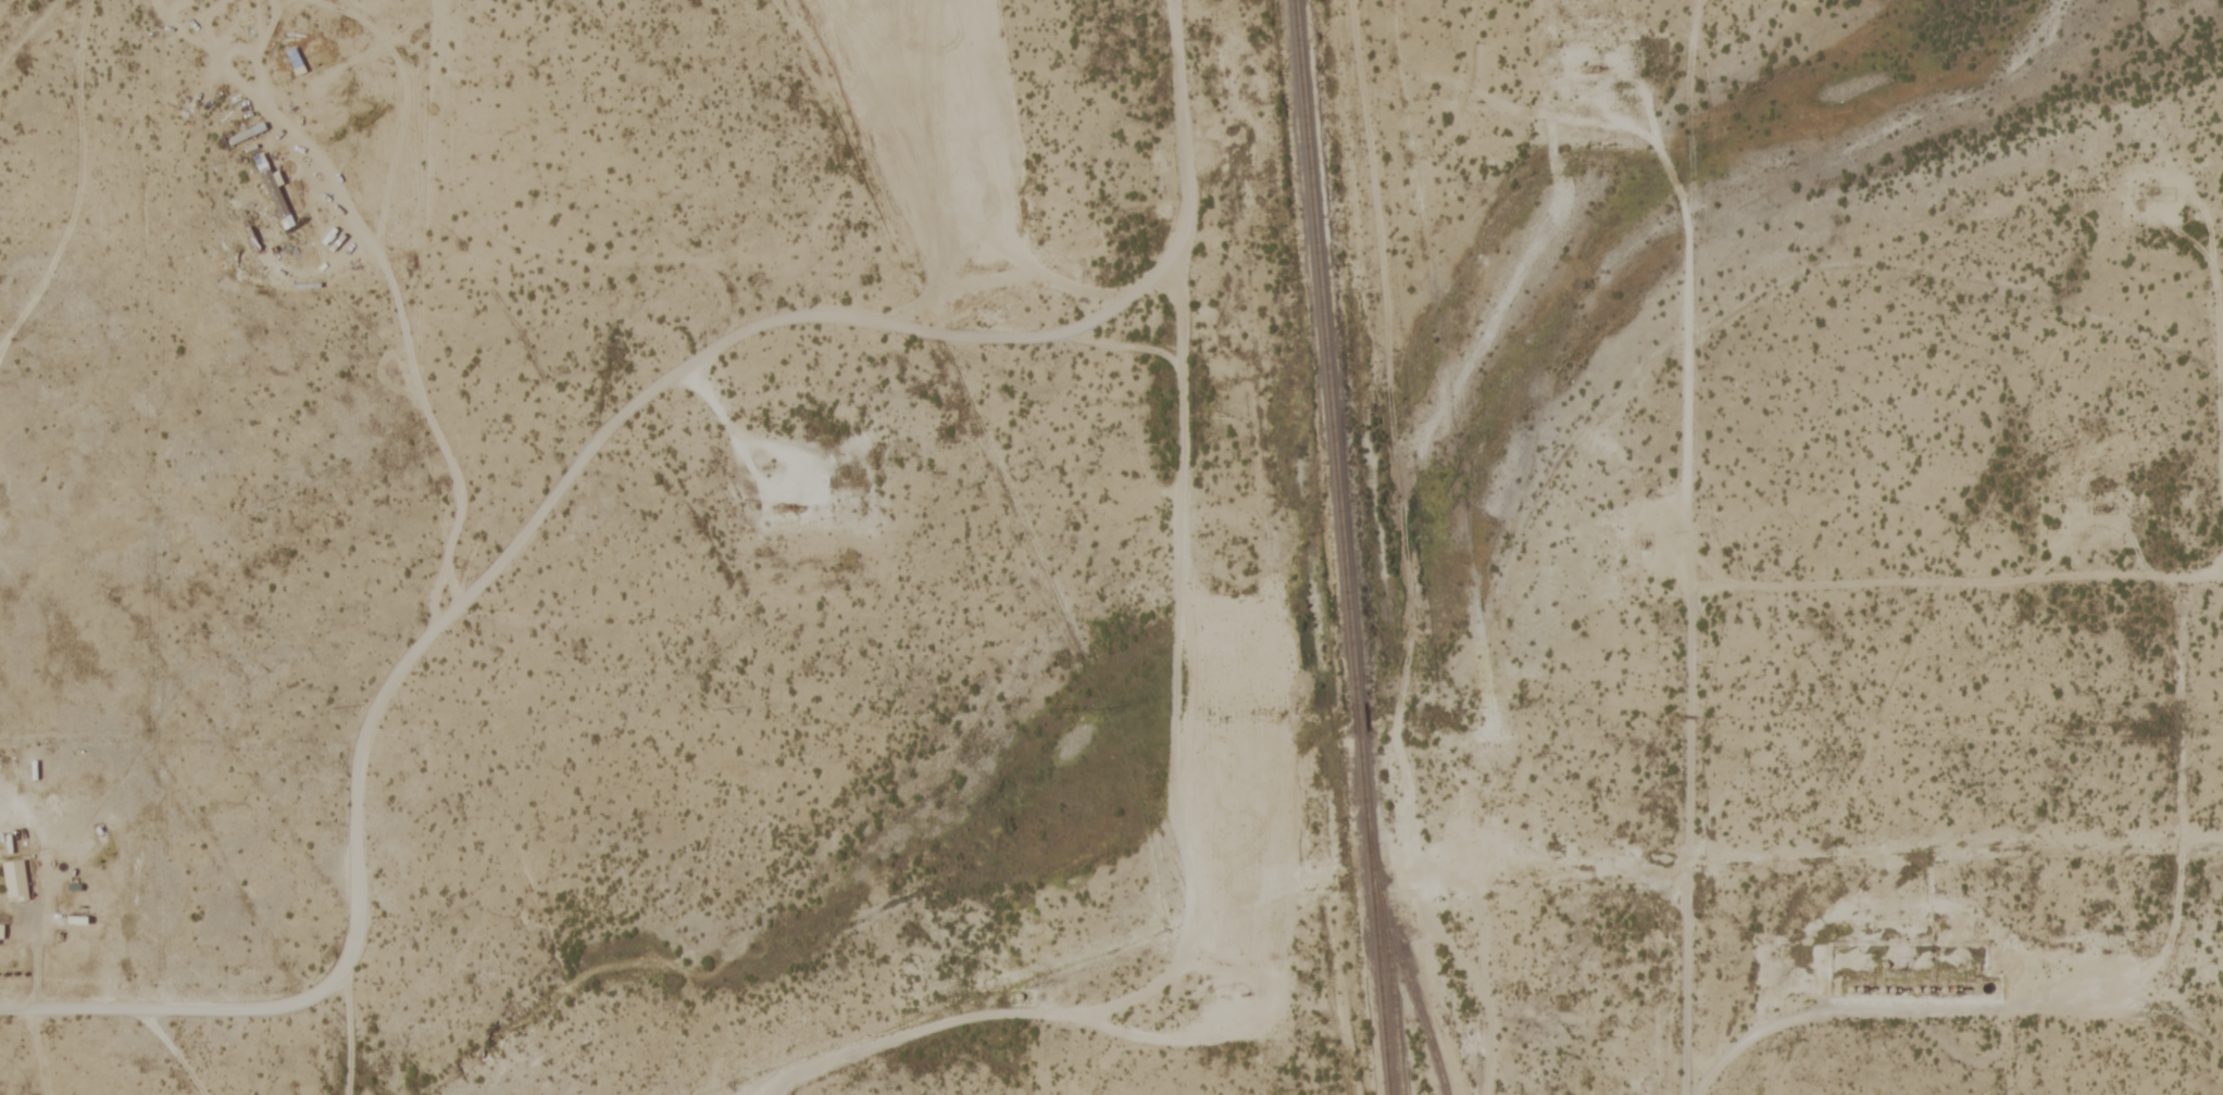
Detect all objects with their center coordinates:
road: (1652, 108)
road: (1183, 169)
road: (2216, 272)
railway: (1322, 350)
road: (715, 423)
road: (444, 432)
road: (1940, 582)
road: (461, 593)
road: (1691, 650)
railway: (1354, 718)
road: (2180, 780)
road: (1176, 828)
road: (2201, 839)
building: (15, 880)
railway: (1372, 914)
building: (1, 930)
road: (1468, 965)
railway: (1399, 966)
road: (1257, 973)
road: (1953, 1005)
road: (1951, 1046)
road: (2009, 1050)
road: (771, 1091)

